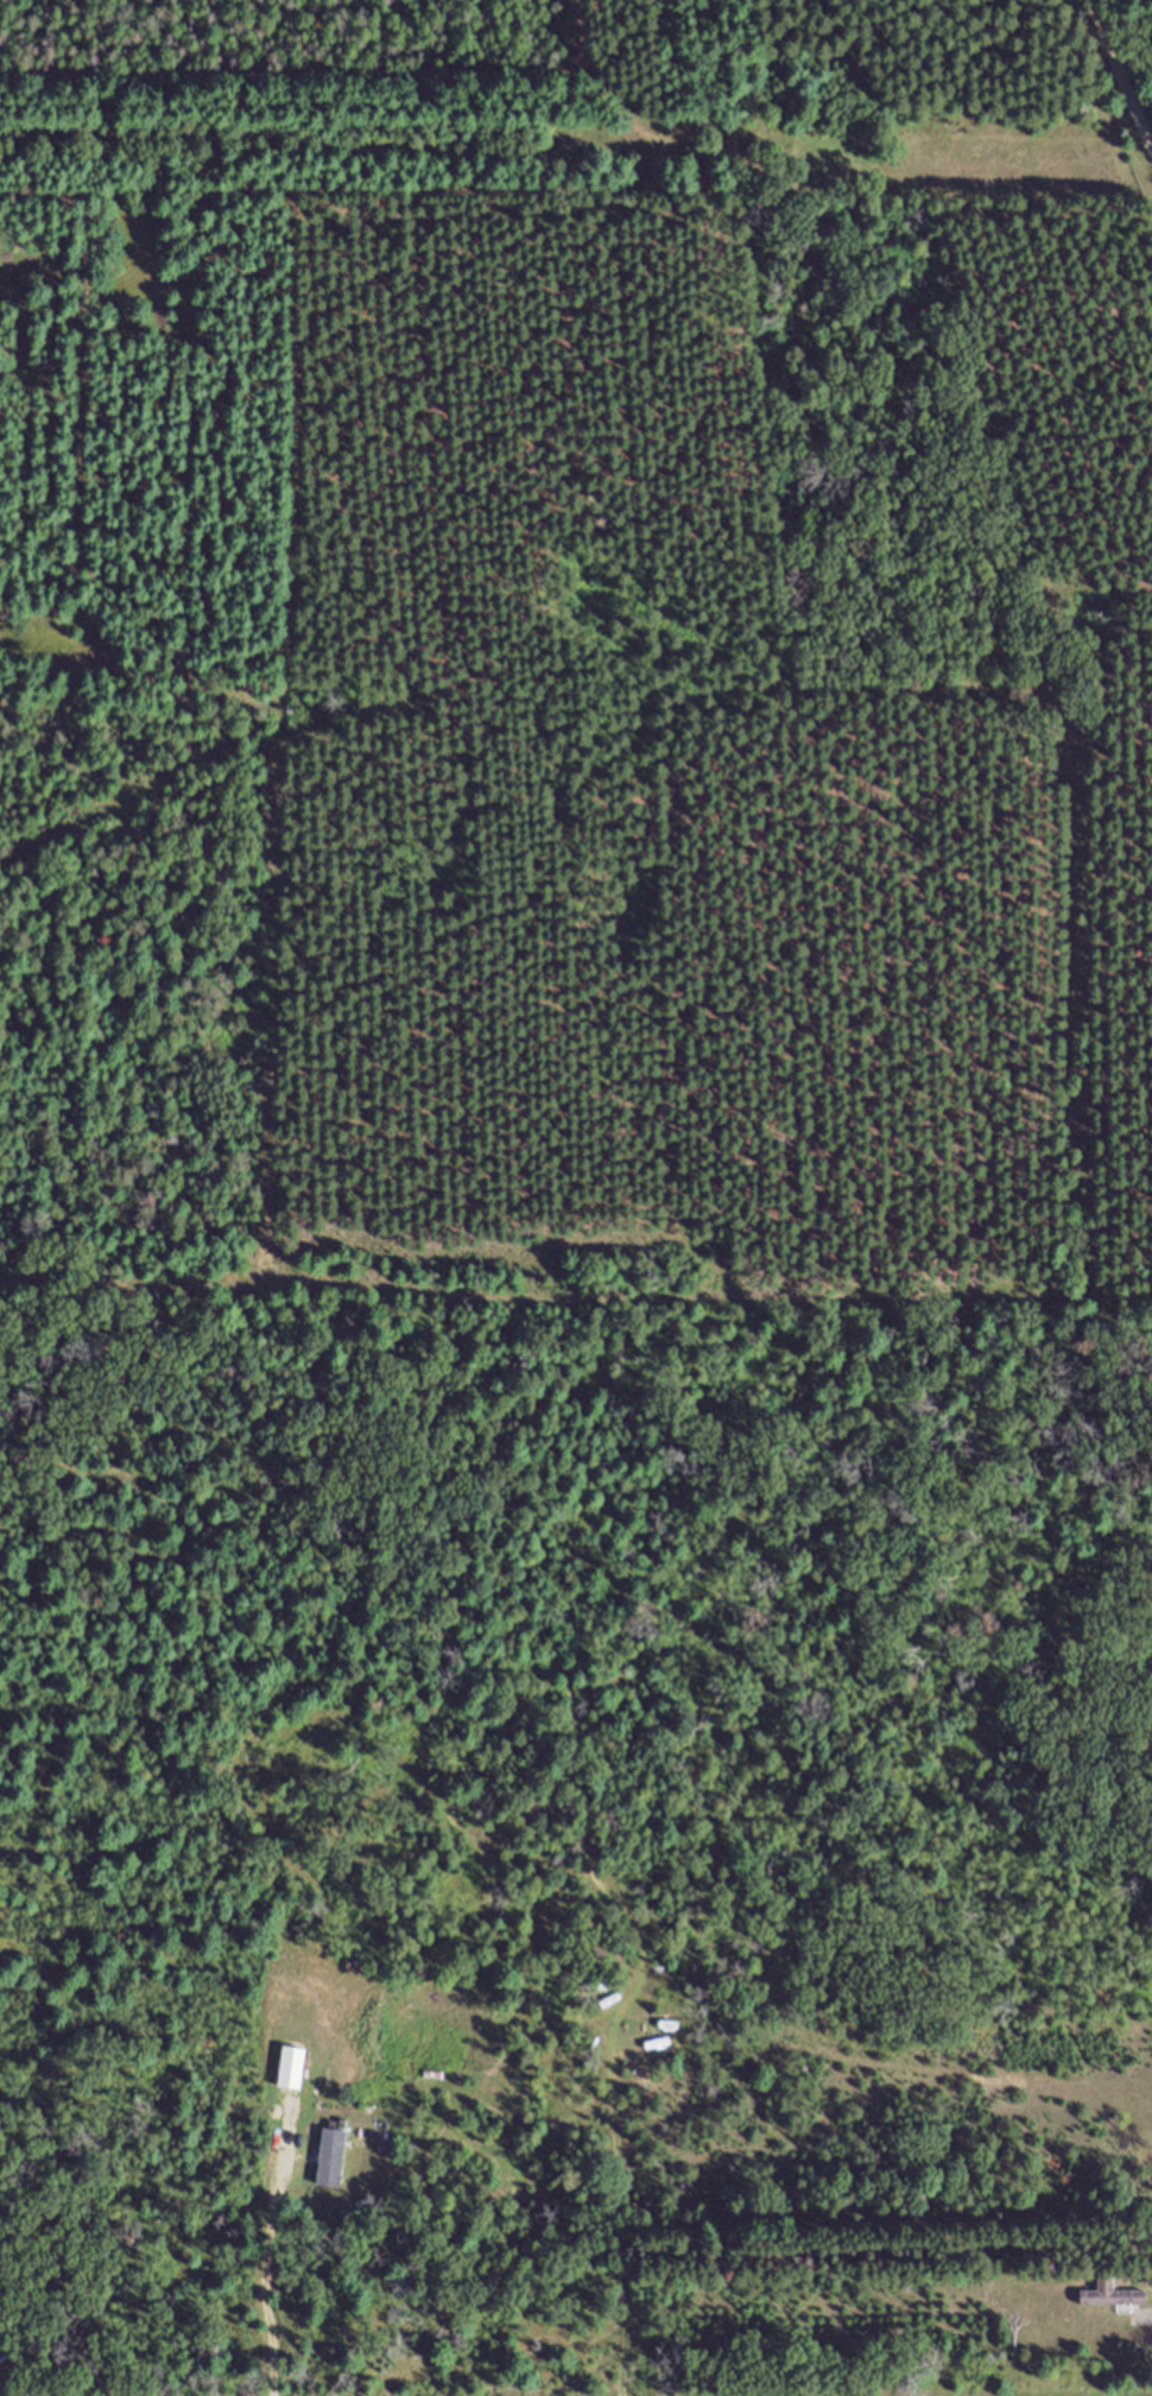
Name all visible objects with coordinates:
road: (1118, 77)
building: (329, 2169)
building: (514, 2200)
building: (1109, 2306)

